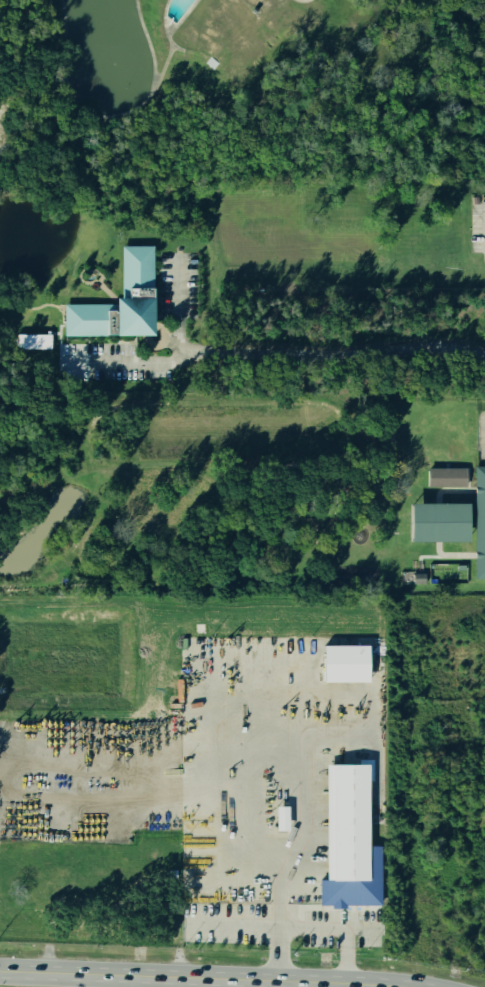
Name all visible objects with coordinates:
building: (116, 298)
road: (175, 308)
building: (34, 342)
road: (332, 347)
road: (127, 364)
road: (483, 436)
building: (446, 479)
building: (454, 522)
building: (412, 580)
building: (341, 662)
building: (281, 820)
building: (346, 839)
road: (279, 871)
road: (236, 925)
road: (334, 936)
road: (279, 942)
road: (200, 977)
road: (302, 984)

